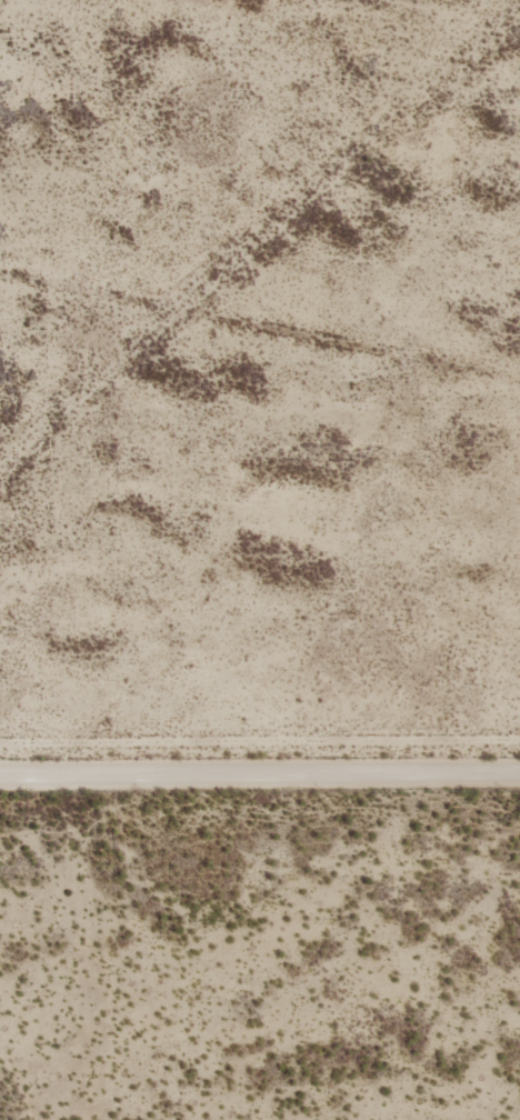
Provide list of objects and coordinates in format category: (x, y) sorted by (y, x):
road: (260, 724)

